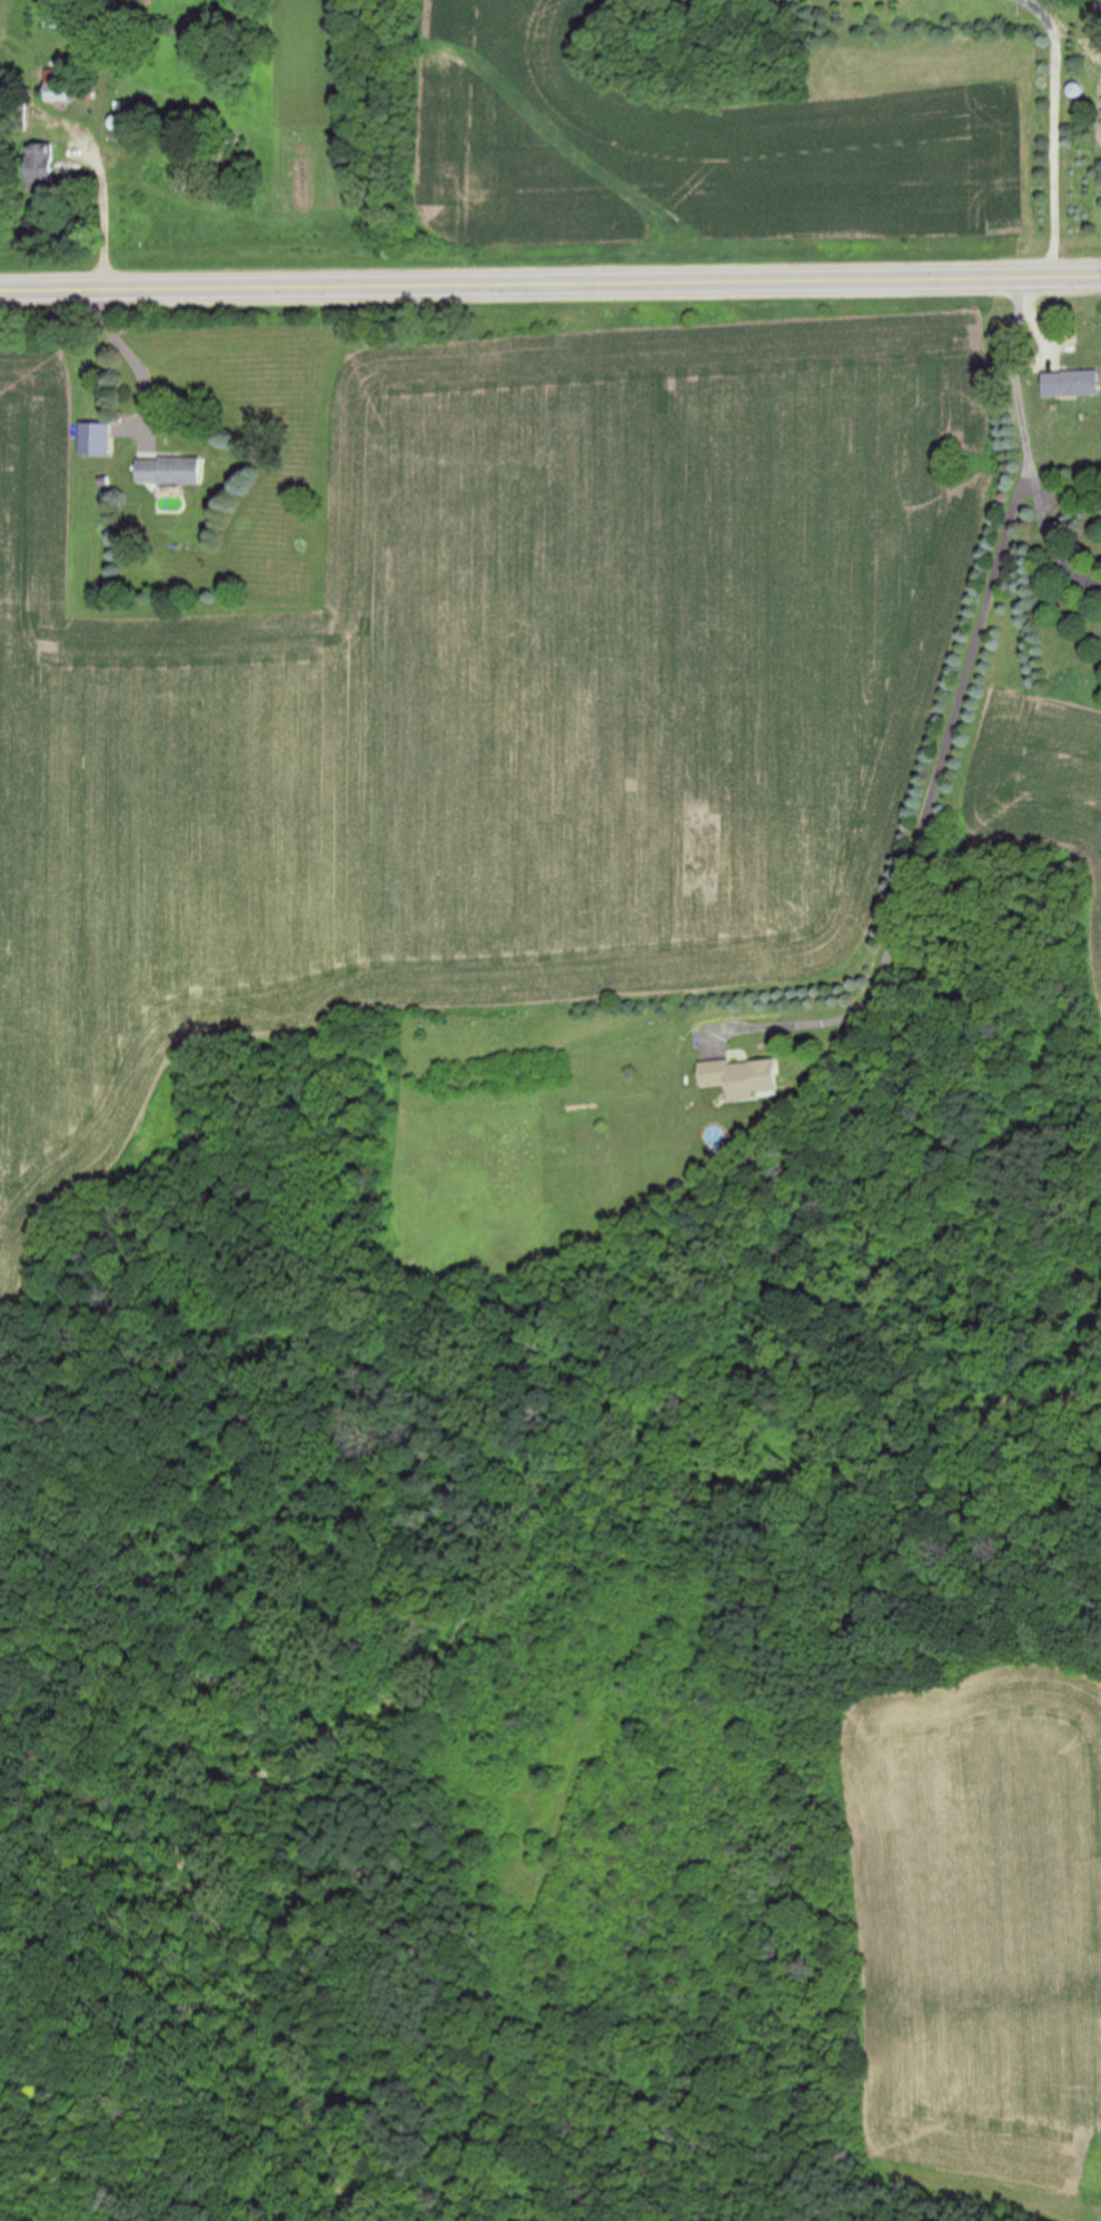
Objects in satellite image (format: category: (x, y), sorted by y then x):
building: (63, 17)
building: (58, 86)
building: (117, 122)
road: (1053, 131)
building: (41, 168)
building: (188, 174)
road: (103, 213)
road: (550, 283)
road: (129, 355)
building: (1072, 383)
building: (97, 440)
building: (170, 471)
road: (1059, 487)
road: (1050, 531)
crop: (483, 685)
road: (954, 709)
building: (742, 1076)
crop: (966, 1927)

